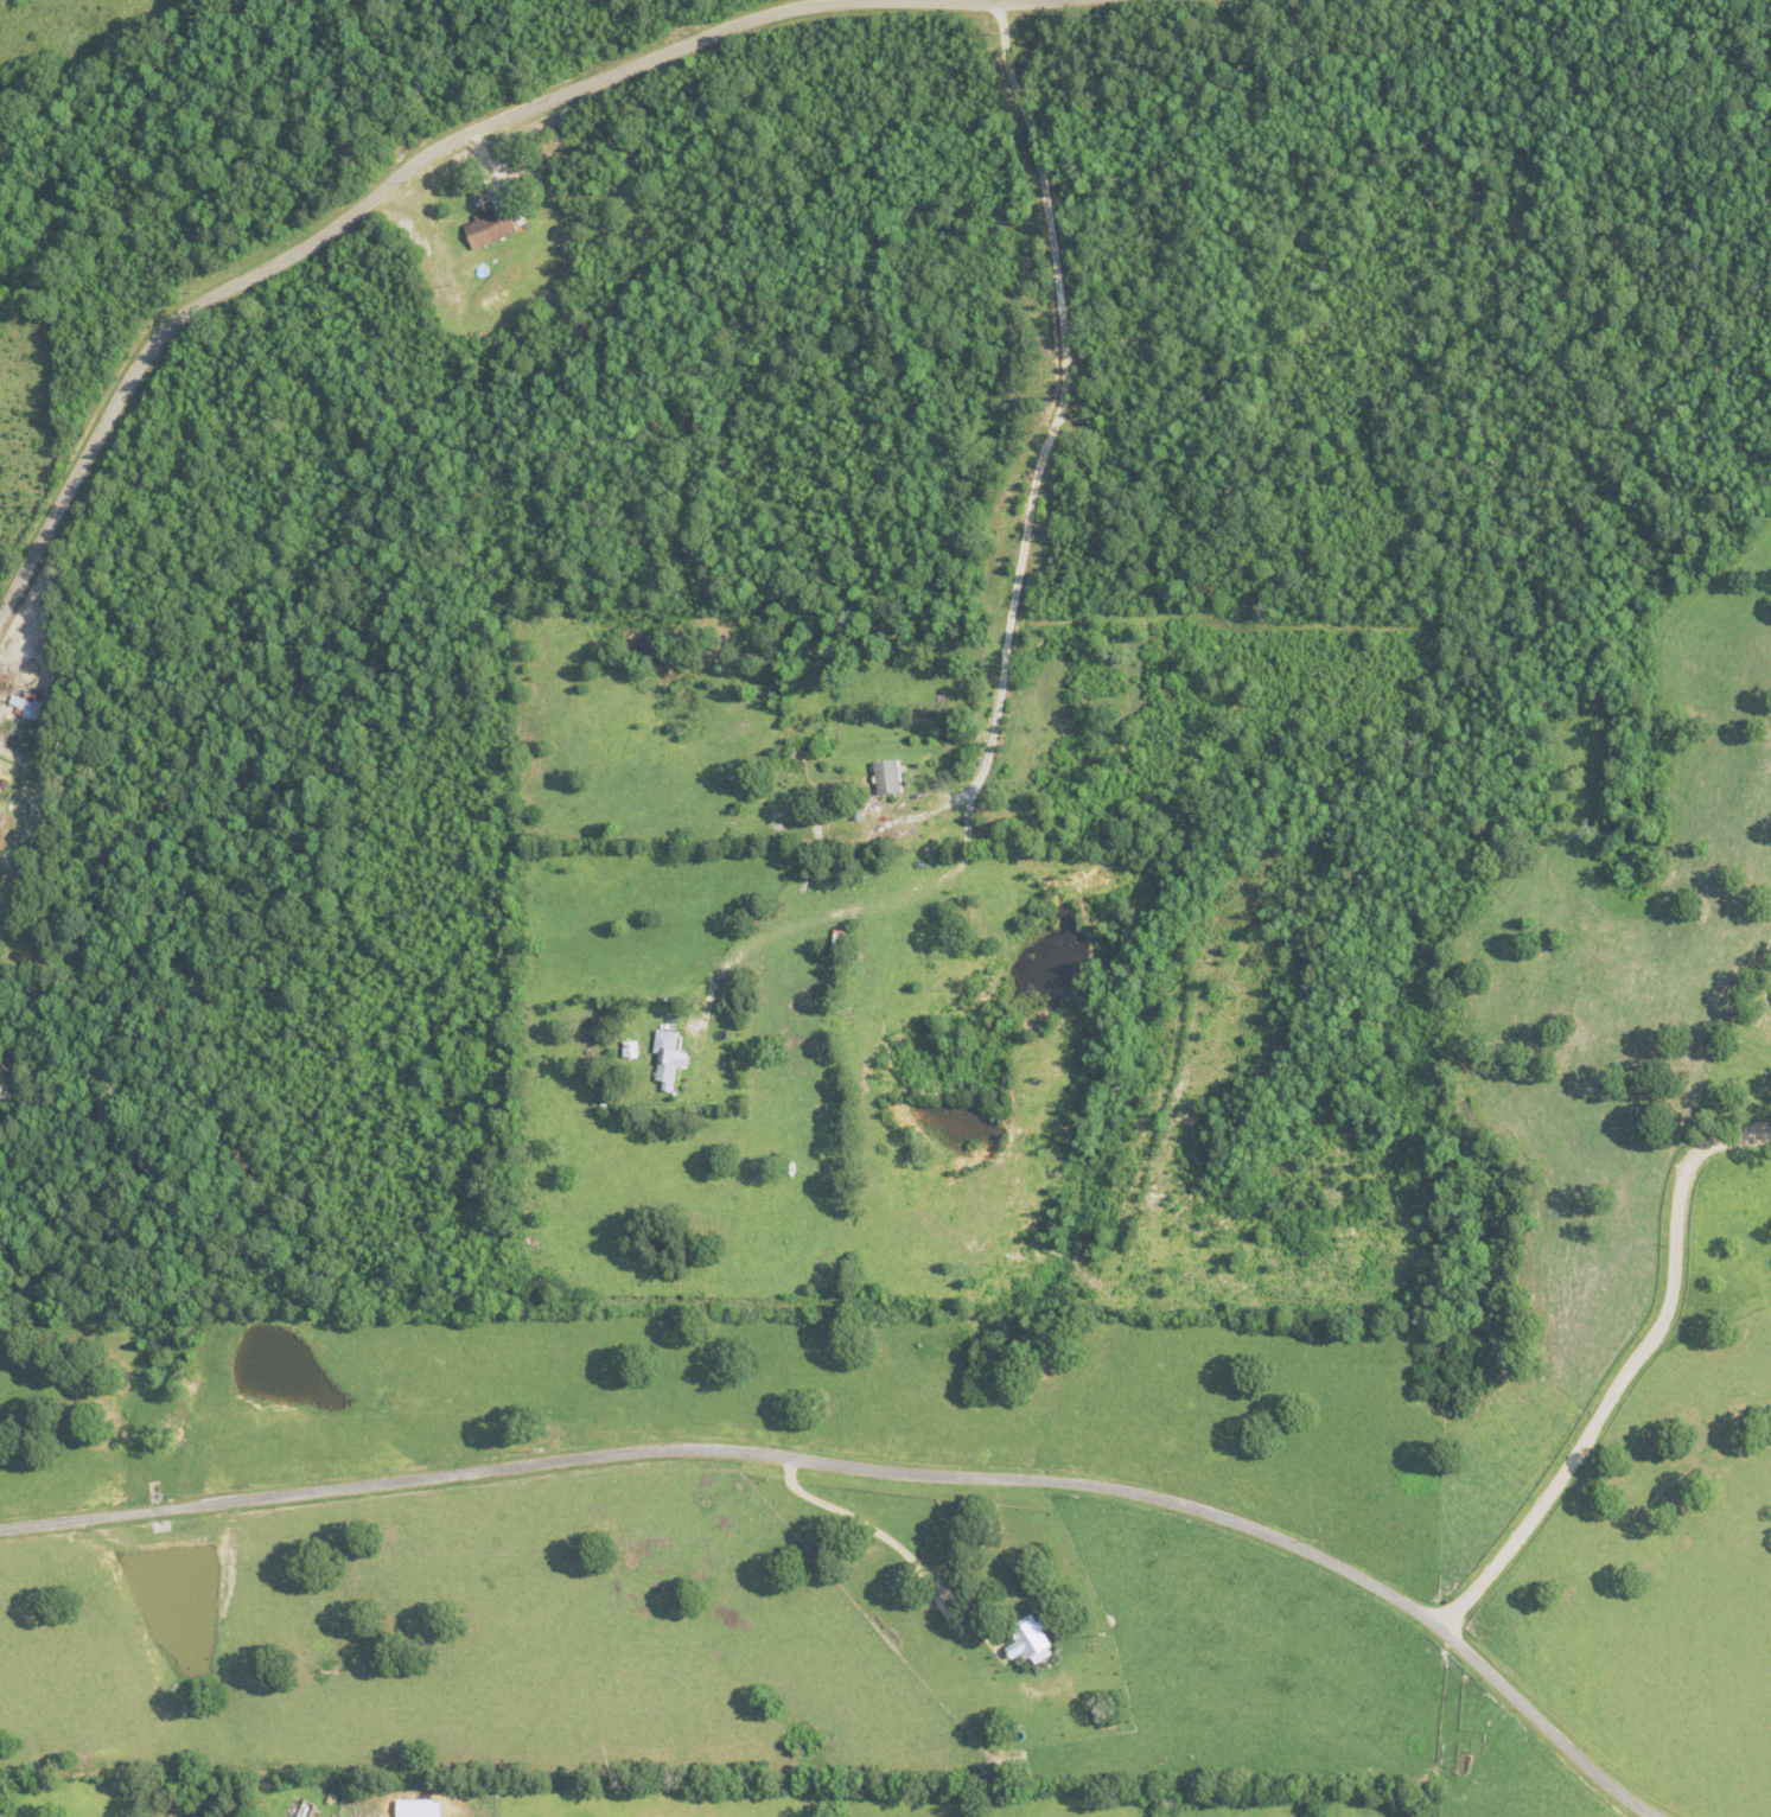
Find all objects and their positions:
road: (438, 147)
building: (485, 225)
building: (24, 703)
building: (885, 776)
building: (663, 1058)
road: (878, 1471)
building: (1028, 1639)
building: (1001, 1658)

